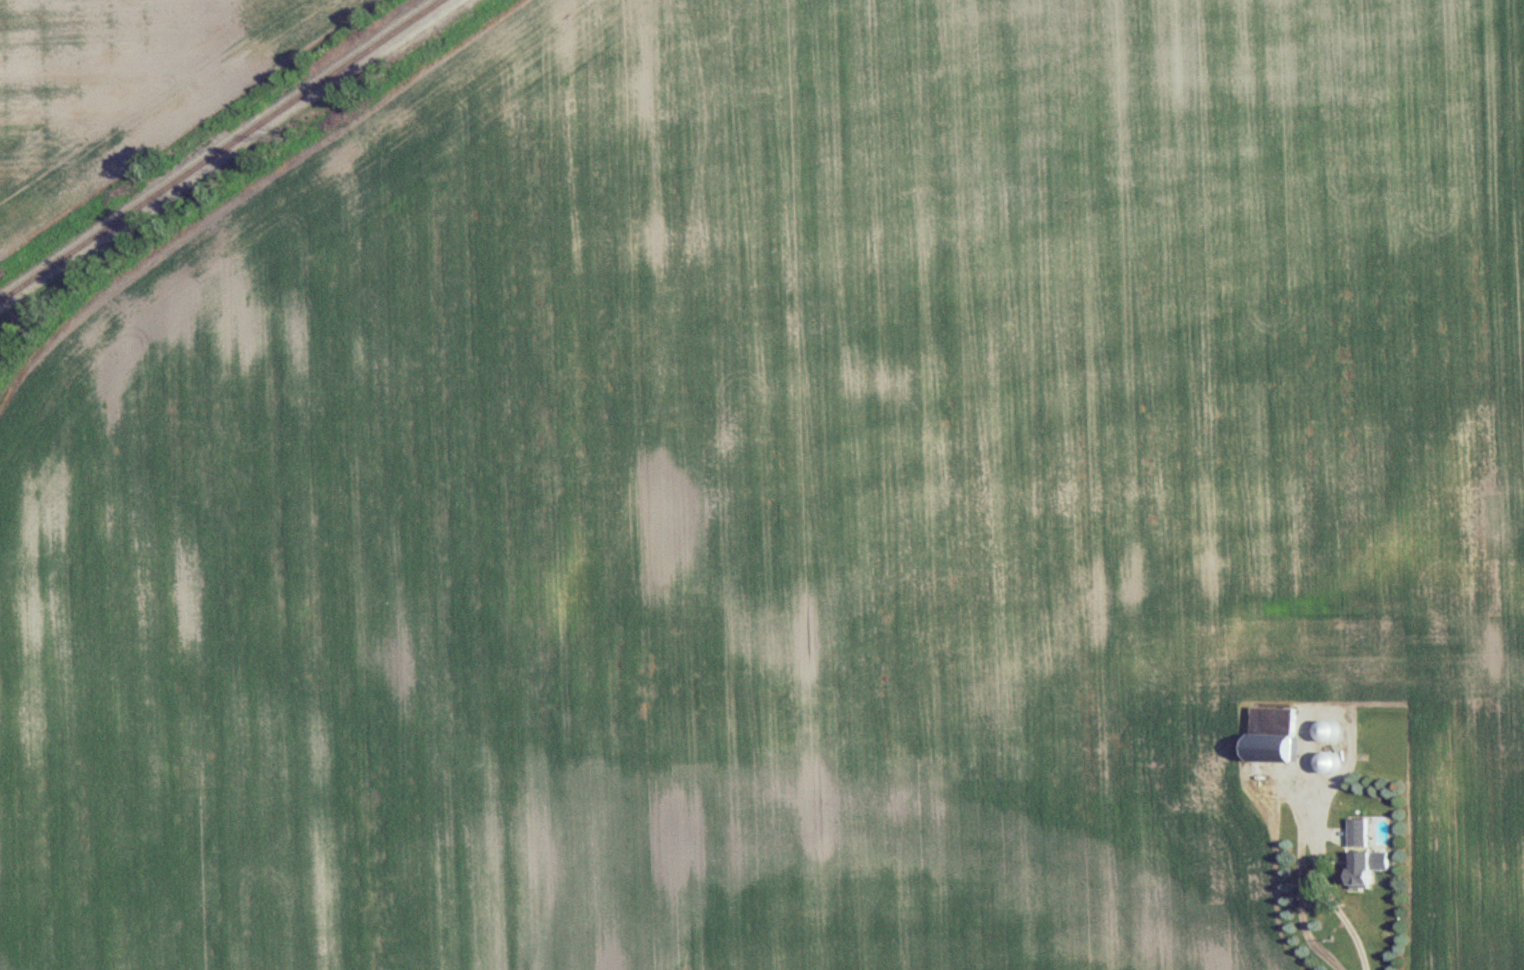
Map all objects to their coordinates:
railway: (219, 149)
road: (1327, 887)
road: (1298, 901)

